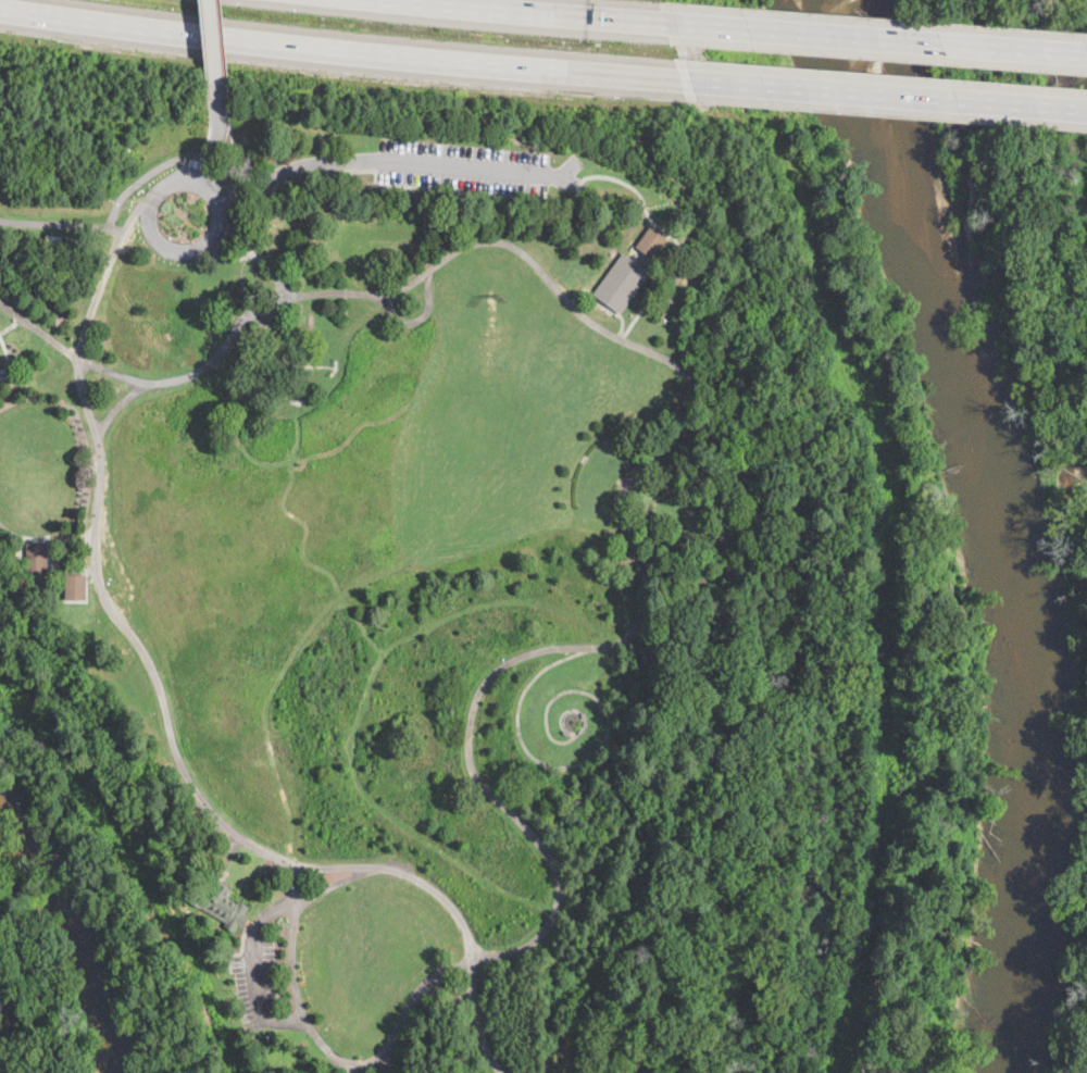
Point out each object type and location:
road: (524, 11)
road: (875, 38)
road: (212, 43)
road: (221, 43)
road: (339, 47)
road: (884, 95)
road: (230, 128)
building: (351, 133)
road: (213, 135)
road: (395, 161)
road: (200, 164)
parking lot: (475, 166)
road: (571, 167)
road: (224, 170)
road: (137, 182)
road: (236, 182)
road: (530, 196)
road: (55, 219)
road: (246, 224)
building: (268, 227)
road: (114, 234)
building: (53, 238)
building: (651, 242)
road: (205, 245)
road: (226, 259)
road: (275, 267)
building: (624, 283)
road: (98, 296)
road: (608, 304)
road: (420, 319)
road: (11, 327)
road: (38, 330)
road: (222, 348)
road: (8, 359)
road: (112, 373)
road: (86, 397)
road: (118, 406)
road: (624, 523)
river: (1011, 524)
road: (884, 527)
road: (43, 538)
park: (463, 551)
building: (36, 559)
building: (75, 587)
road: (153, 670)
road: (605, 737)
road: (405, 874)
road: (336, 884)
building: (221, 906)
road: (254, 971)
parking lot: (257, 976)
road: (295, 976)
road: (446, 990)
road: (413, 1003)
road: (478, 1020)
road: (364, 1063)

